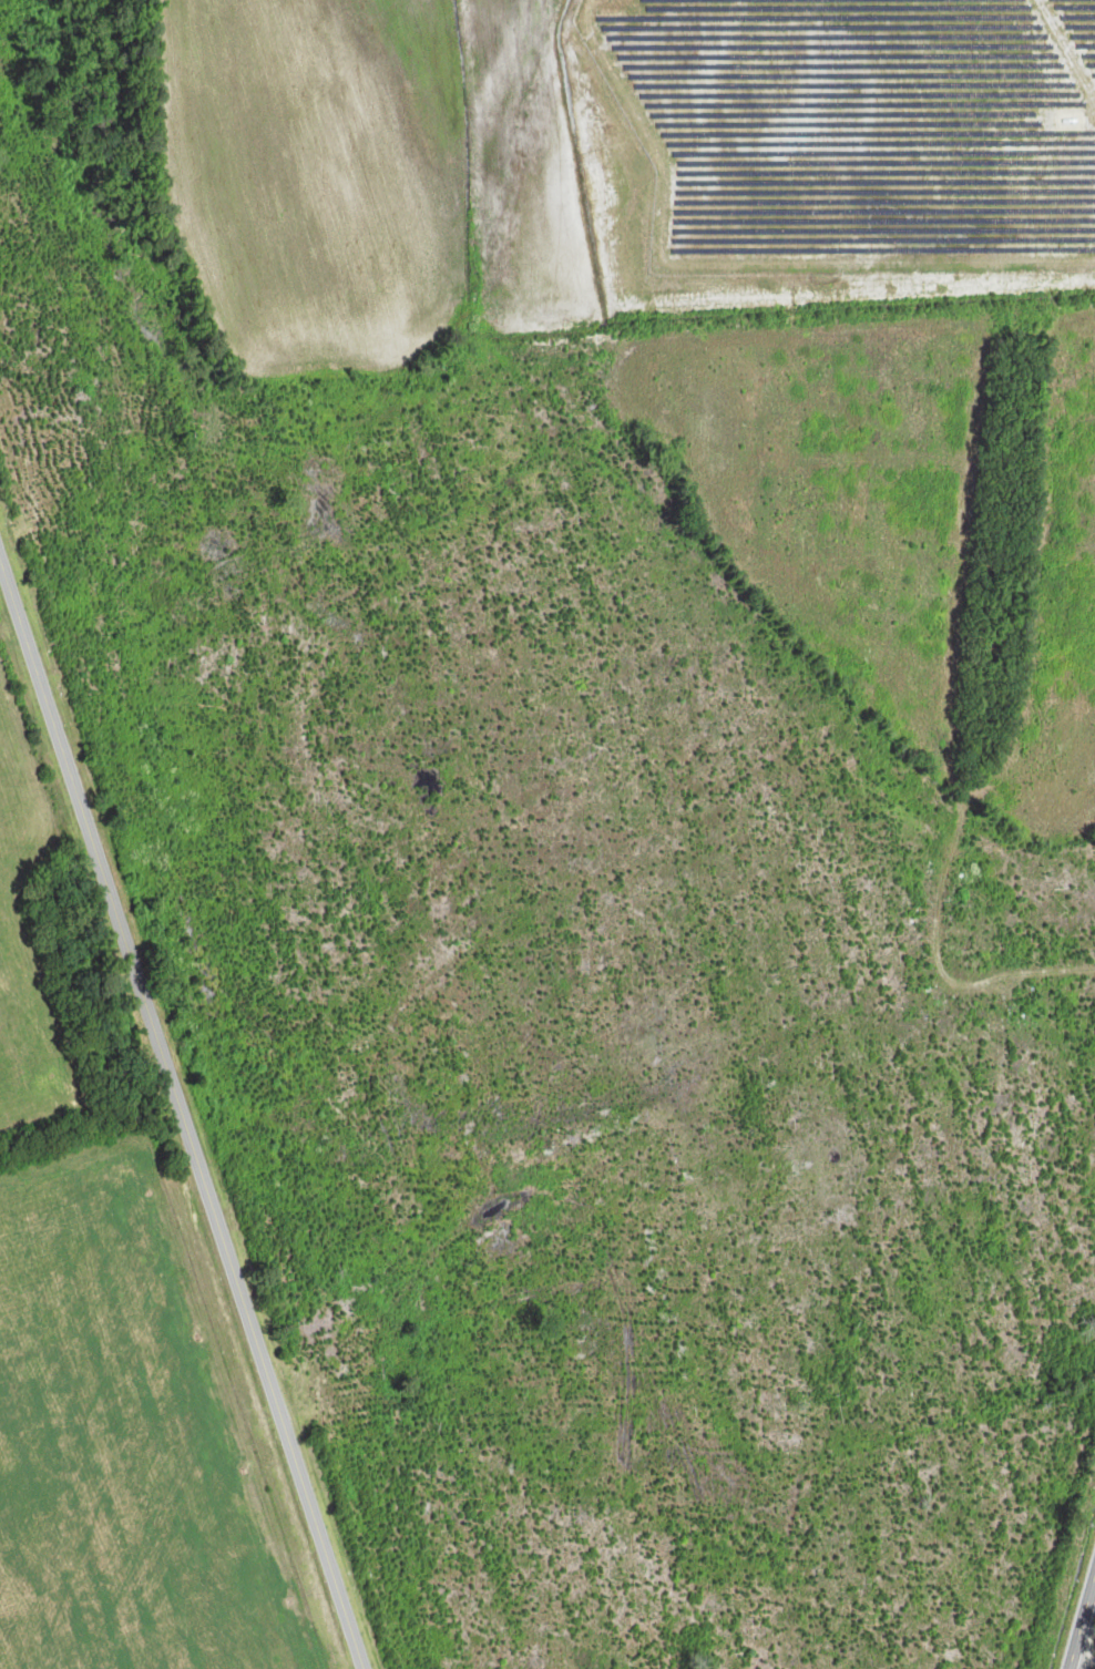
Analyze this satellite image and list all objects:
solar farm: (859, 130)
road: (182, 1113)
road: (1084, 1631)
road: (1086, 1661)

